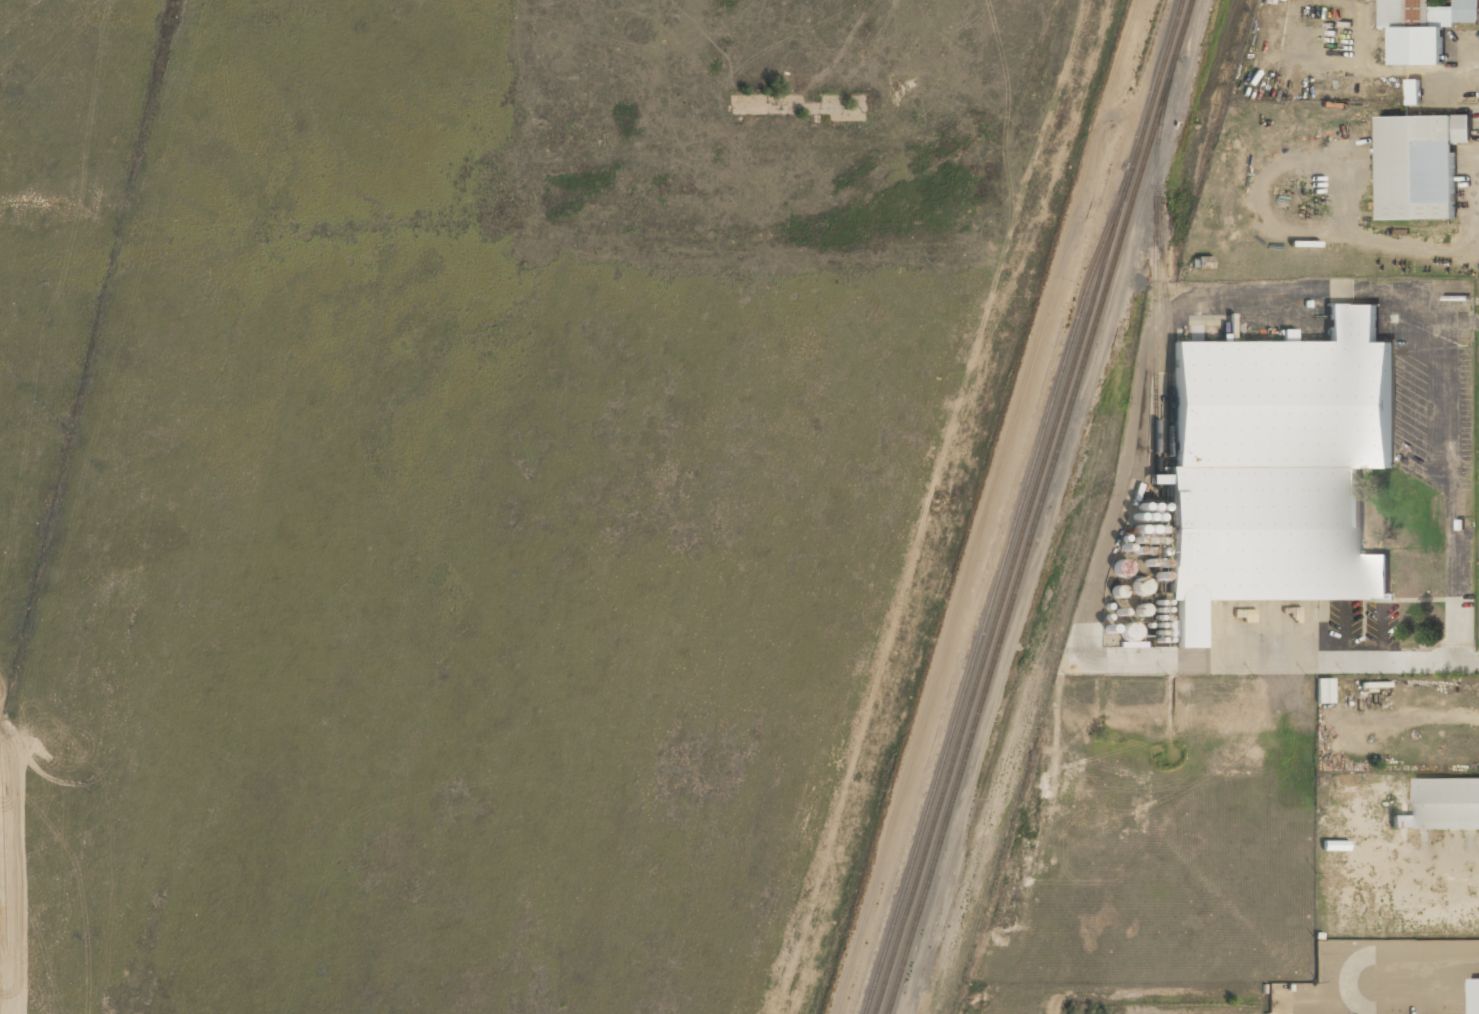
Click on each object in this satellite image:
building: (1421, 27)
building: (1413, 93)
building: (1418, 165)
building: (1201, 263)
building: (1276, 467)
railway: (1028, 506)
railway: (1040, 507)
railway: (992, 597)
building: (1129, 631)
building: (1324, 691)
road: (17, 697)
building: (1443, 804)
building: (1474, 996)

